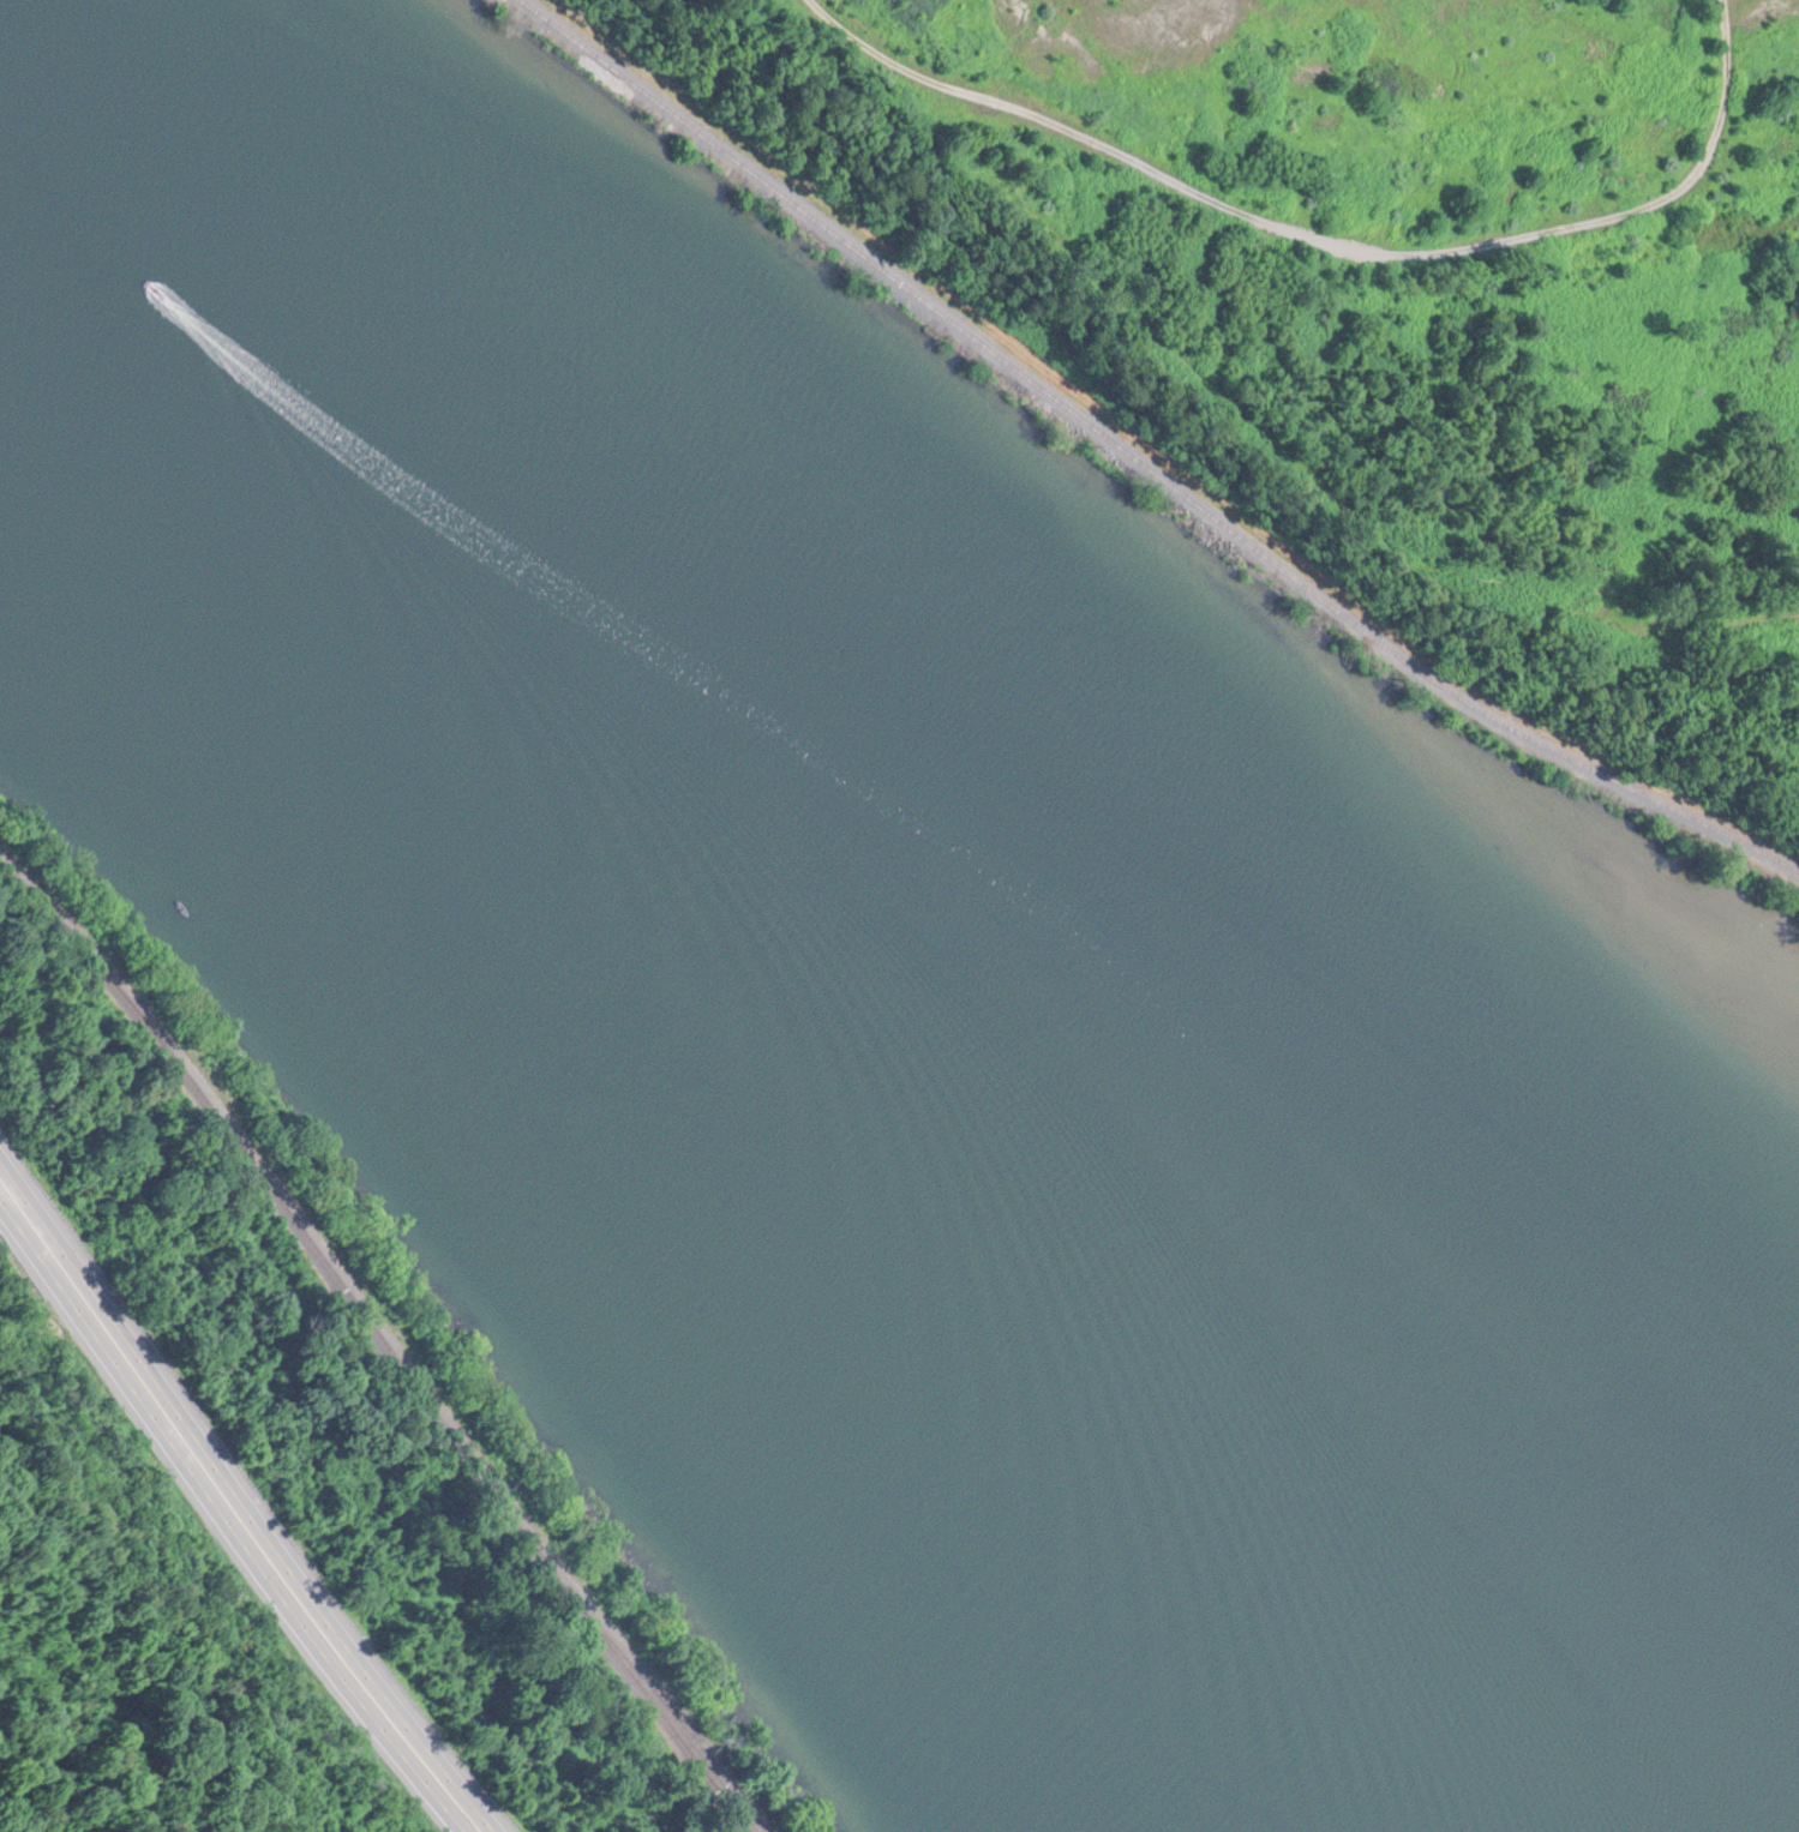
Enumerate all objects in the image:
road: (1329, 236)
road: (1285, 445)
railway: (1141, 463)
river: (752, 973)
railway: (353, 1344)
railway: (402, 1361)
road: (244, 1492)
road: (224, 1522)

